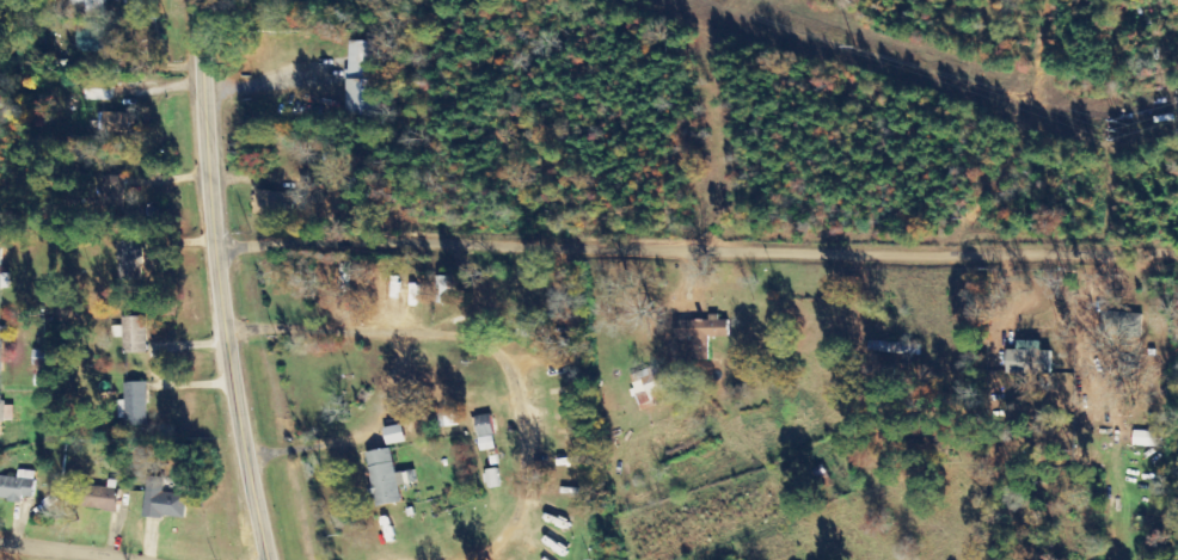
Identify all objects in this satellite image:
building: (85, 6)
building: (91, 43)
building: (366, 78)
building: (115, 123)
power tower: (1113, 130)
building: (115, 199)
building: (272, 204)
road: (689, 251)
building: (128, 258)
building: (2, 277)
road: (205, 282)
building: (443, 289)
building: (1121, 325)
building: (702, 333)
building: (133, 334)
building: (5, 340)
building: (895, 347)
building: (41, 357)
building: (1029, 359)
building: (42, 380)
building: (648, 387)
building: (136, 404)
building: (6, 412)
building: (448, 419)
building: (485, 432)
building: (394, 435)
building: (1147, 439)
building: (566, 462)
building: (386, 476)
building: (492, 478)
building: (17, 486)
building: (100, 498)
building: (164, 503)
road: (63, 550)

